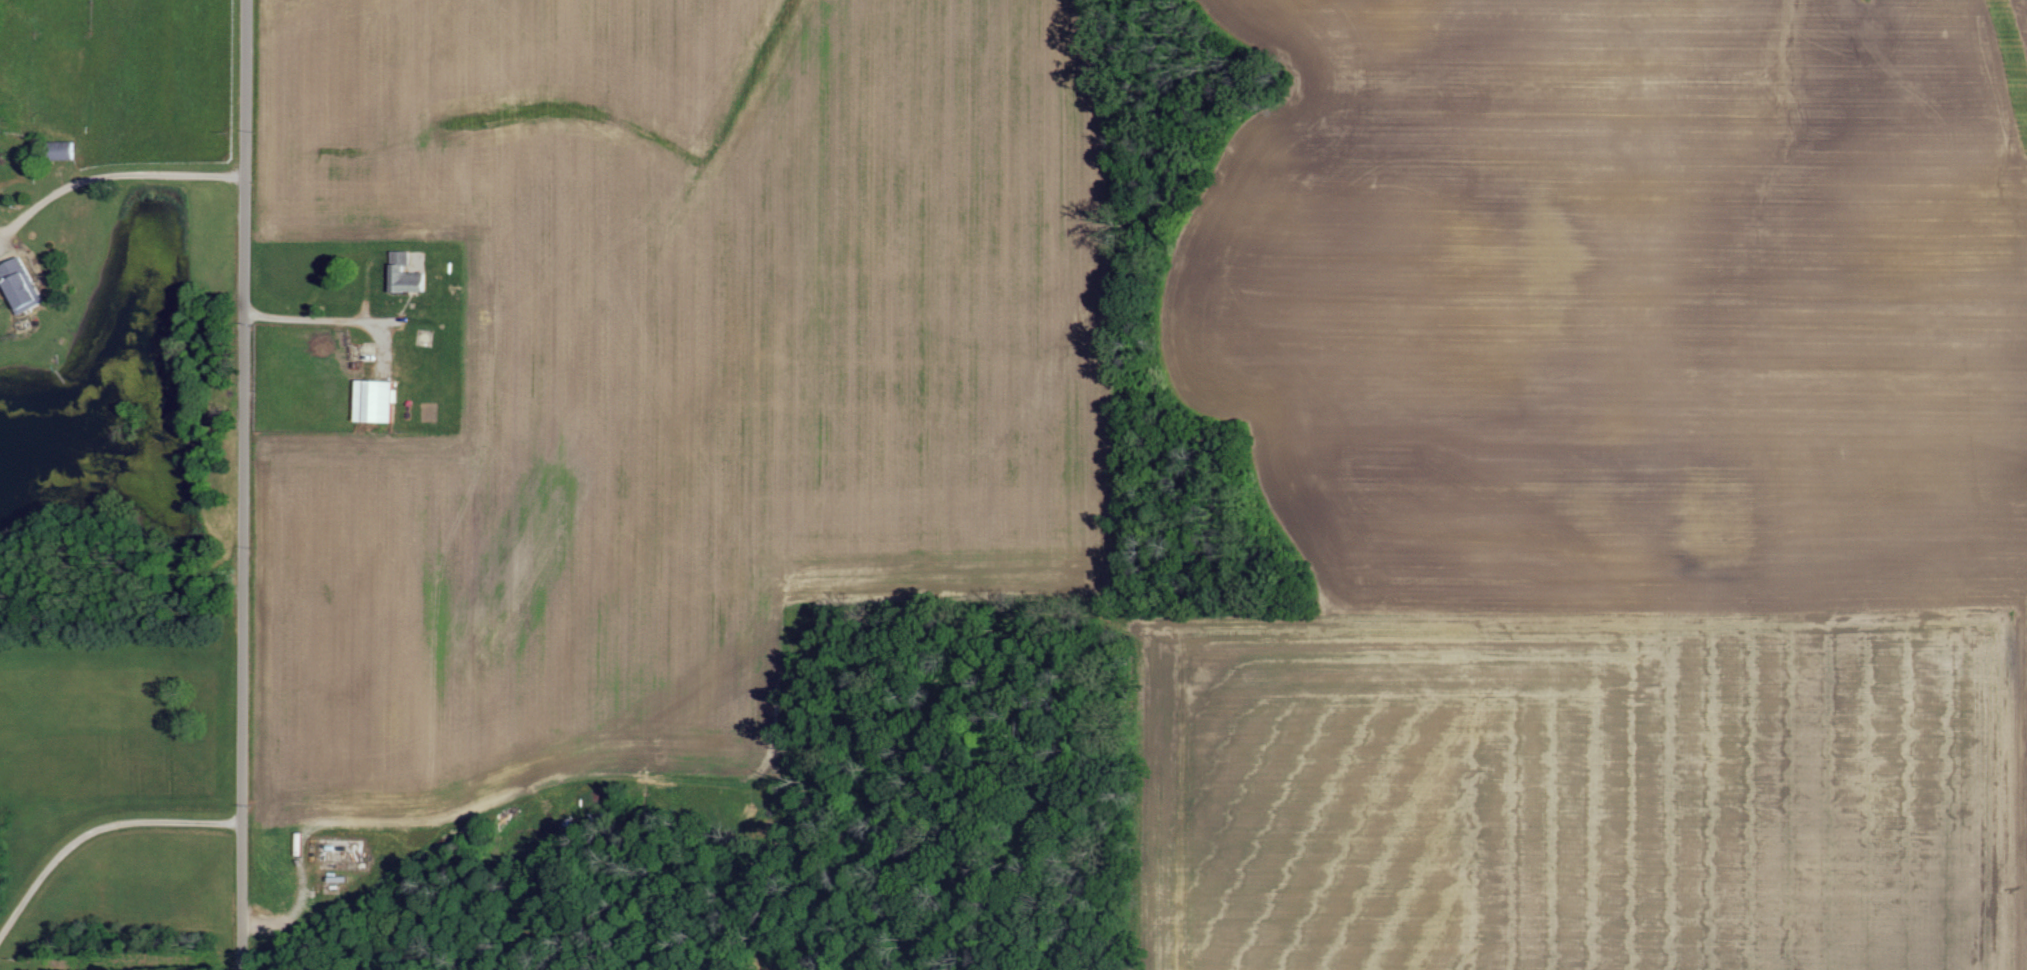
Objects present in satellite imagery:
building: (70, 151)
building: (409, 275)
building: (24, 286)
building: (382, 402)
road: (245, 485)

